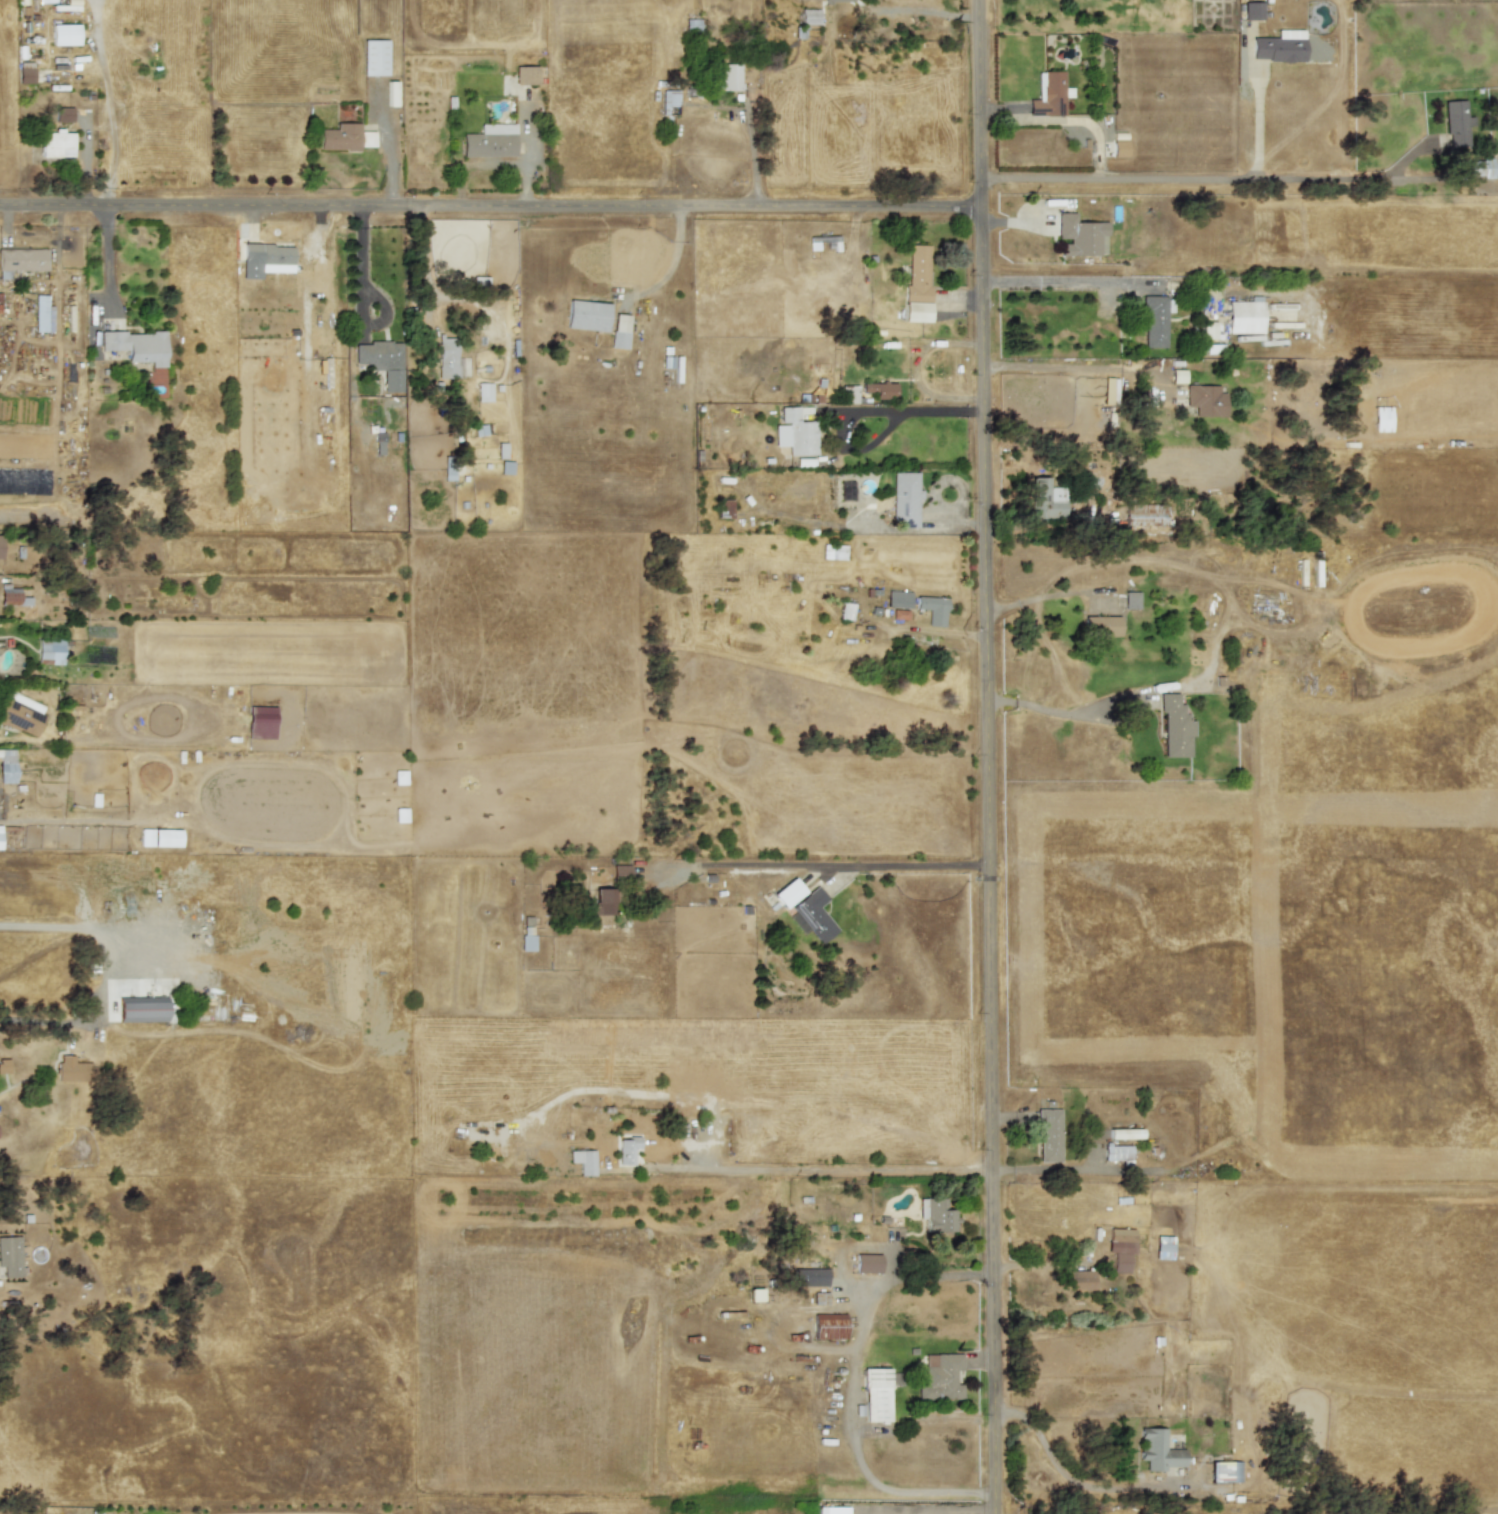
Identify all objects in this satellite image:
building: (841, 0)
building: (45, 1)
building: (1252, 11)
road: (929, 12)
building: (809, 17)
building: (64, 34)
building: (1279, 47)
building: (375, 58)
building: (25, 72)
building: (728, 77)
building: (392, 93)
building: (1048, 94)
building: (669, 98)
building: (63, 115)
road: (109, 122)
road: (1256, 122)
building: (1456, 123)
building: (344, 137)
building: (490, 141)
building: (56, 144)
building: (1119, 148)
road: (750, 156)
building: (1478, 168)
road: (1202, 178)
road: (491, 206)
building: (1079, 236)
building: (269, 257)
building: (23, 259)
road: (106, 259)
road: (425, 262)
road: (1061, 282)
building: (917, 285)
road: (361, 296)
building: (42, 314)
building: (587, 316)
building: (1245, 316)
building: (1154, 321)
building: (1209, 330)
building: (620, 331)
building: (136, 346)
building: (448, 356)
building: (381, 361)
road: (1072, 369)
building: (1178, 376)
building: (880, 390)
building: (484, 392)
building: (849, 394)
building: (1205, 400)
road: (864, 411)
building: (1381, 419)
building: (795, 433)
building: (500, 450)
building: (506, 467)
building: (904, 499)
building: (1047, 500)
building: (1144, 515)
building: (0, 546)
building: (833, 552)
building: (8, 596)
building: (898, 599)
building: (1131, 600)
building: (932, 609)
building: (845, 611)
building: (1101, 626)
building: (50, 651)
road: (1065, 712)
building: (20, 713)
building: (261, 722)
building: (1174, 726)
road: (989, 756)
building: (7, 766)
building: (399, 777)
building: (400, 815)
building: (0, 833)
building: (160, 837)
road: (827, 865)
building: (620, 872)
building: (788, 893)
building: (603, 902)
building: (811, 916)
building: (526, 943)
road: (104, 970)
building: (141, 1009)
building: (4, 1066)
building: (72, 1069)
building: (1048, 1134)
building: (1125, 1134)
building: (628, 1151)
building: (1117, 1152)
building: (583, 1162)
road: (1003, 1169)
road: (1083, 1169)
road: (812, 1170)
building: (935, 1215)
building: (1163, 1248)
building: (1120, 1249)
building: (10, 1256)
building: (867, 1263)
road: (941, 1275)
building: (809, 1277)
building: (1080, 1280)
building: (755, 1295)
building: (819, 1298)
building: (828, 1326)
building: (940, 1377)
building: (876, 1395)
road: (923, 1422)
road: (852, 1439)
building: (1158, 1450)
building: (1225, 1472)
road: (1062, 1473)
building: (832, 1510)
building: (95, 1512)

